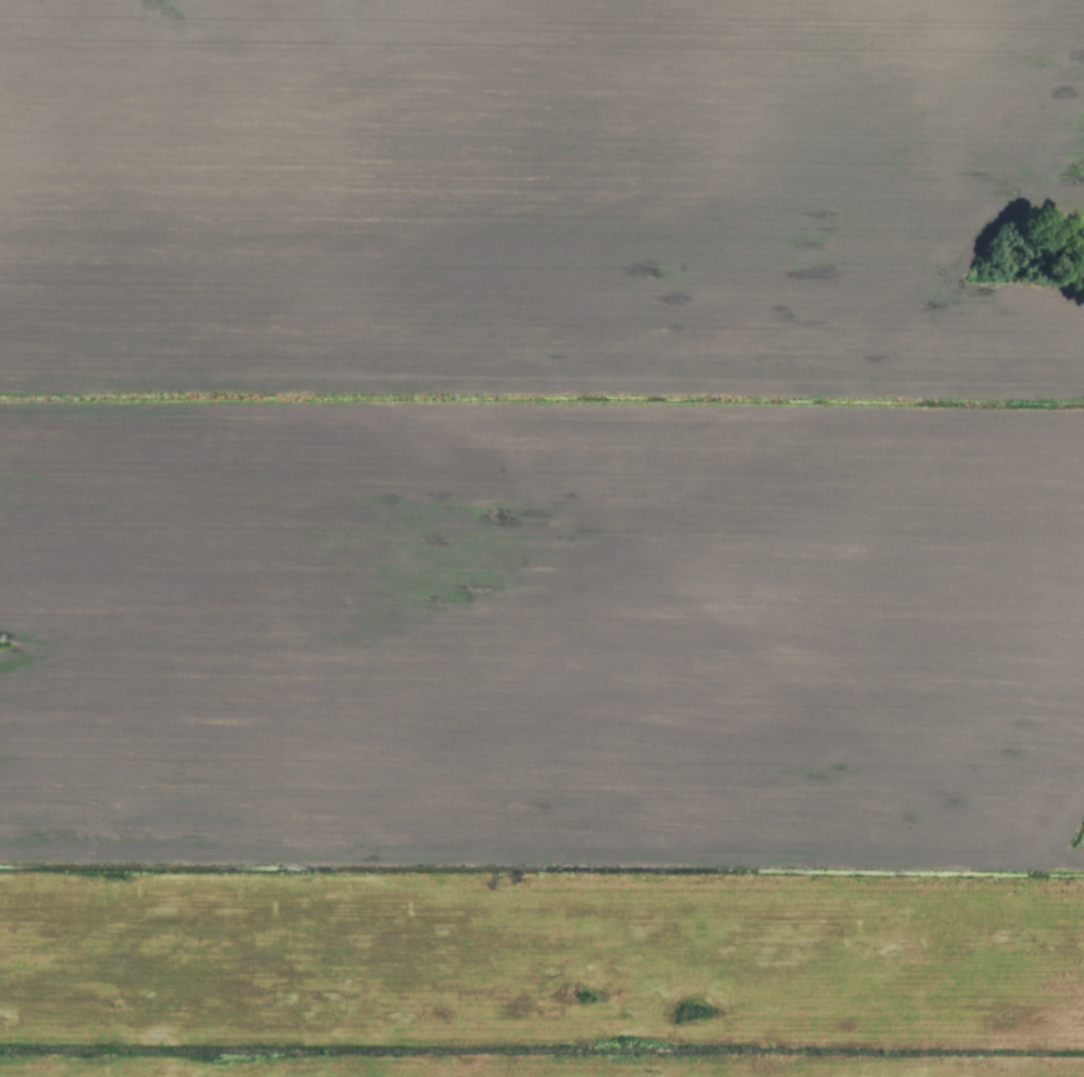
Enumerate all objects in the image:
crop: (542, 538)

